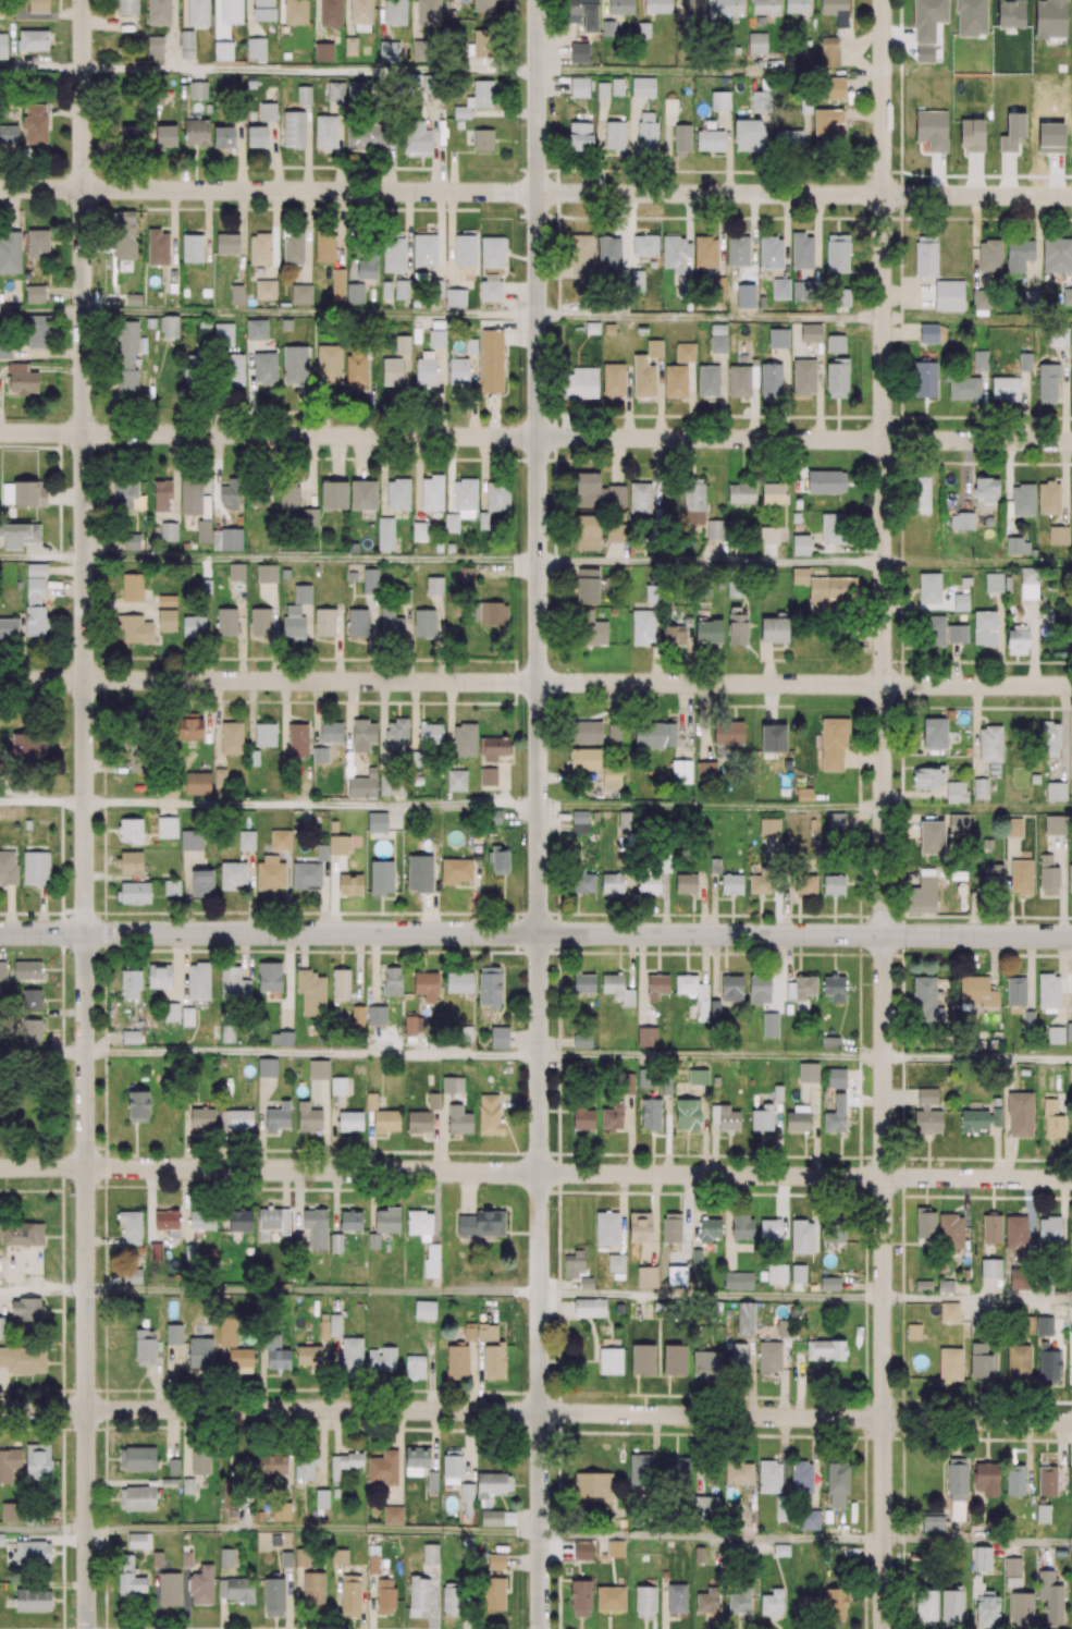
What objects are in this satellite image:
building: (483, 4)
building: (127, 5)
building: (657, 5)
building: (797, 5)
building: (38, 7)
building: (4, 10)
building: (159, 11)
building: (231, 11)
building: (428, 11)
building: (198, 12)
building: (330, 12)
building: (607, 27)
building: (643, 29)
building: (34, 39)
building: (756, 41)
building: (350, 45)
building: (3, 46)
building: (155, 47)
building: (737, 49)
building: (223, 50)
building: (323, 51)
building: (579, 52)
road: (41, 69)
road: (310, 71)
road: (710, 73)
building: (616, 85)
building: (642, 85)
building: (579, 86)
building: (602, 89)
building: (459, 123)
building: (615, 134)
building: (483, 138)
road: (338, 146)
road: (307, 147)
road: (275, 155)
road: (535, 192)
road: (273, 234)
road: (307, 235)
road: (241, 236)
road: (1036, 242)
building: (38, 243)
building: (226, 243)
building: (157, 247)
building: (192, 247)
building: (260, 248)
building: (424, 248)
building: (465, 249)
building: (738, 249)
building: (801, 249)
building: (705, 250)
building: (771, 250)
building: (637, 279)
road: (1071, 282)
building: (264, 287)
building: (748, 287)
building: (780, 287)
road: (520, 290)
building: (355, 291)
road: (64, 292)
building: (35, 293)
building: (236, 293)
building: (455, 296)
building: (133, 298)
road: (41, 311)
road: (310, 315)
road: (710, 318)
road: (977, 319)
building: (592, 327)
building: (608, 328)
building: (642, 328)
building: (256, 329)
road: (900, 331)
building: (811, 332)
building: (778, 338)
building: (402, 343)
building: (836, 343)
building: (654, 347)
building: (491, 359)
building: (803, 376)
building: (675, 380)
building: (708, 380)
road: (818, 390)
road: (439, 391)
road: (473, 395)
road: (722, 395)
road: (657, 397)
road: (690, 400)
road: (627, 402)
road: (752, 413)
road: (492, 415)
road: (535, 437)
road: (361, 456)
road: (335, 457)
road: (84, 466)
road: (538, 466)
road: (884, 467)
road: (310, 470)
road: (482, 473)
road: (448, 474)
road: (383, 476)
road: (418, 478)
building: (333, 493)
building: (398, 493)
building: (364, 494)
building: (204, 530)
building: (385, 532)
road: (41, 558)
road: (311, 561)
road: (711, 564)
road: (977, 566)
building: (37, 568)
building: (266, 572)
building: (285, 573)
building: (132, 586)
building: (205, 587)
building: (303, 592)
building: (323, 621)
road: (535, 682)
road: (42, 803)
road: (311, 806)
road: (711, 809)
road: (977, 810)
road: (535, 933)
road: (101, 1041)
road: (42, 1054)
road: (312, 1055)
road: (711, 1057)
road: (977, 1060)
road: (535, 1173)
road: (86, 1281)
road: (540, 1281)
road: (884, 1282)
road: (312, 1290)
road: (42, 1291)
road: (805, 1297)
road: (535, 1412)
road: (313, 1528)
road: (44, 1531)
road: (712, 1538)
road: (977, 1542)
building: (611, 1599)

